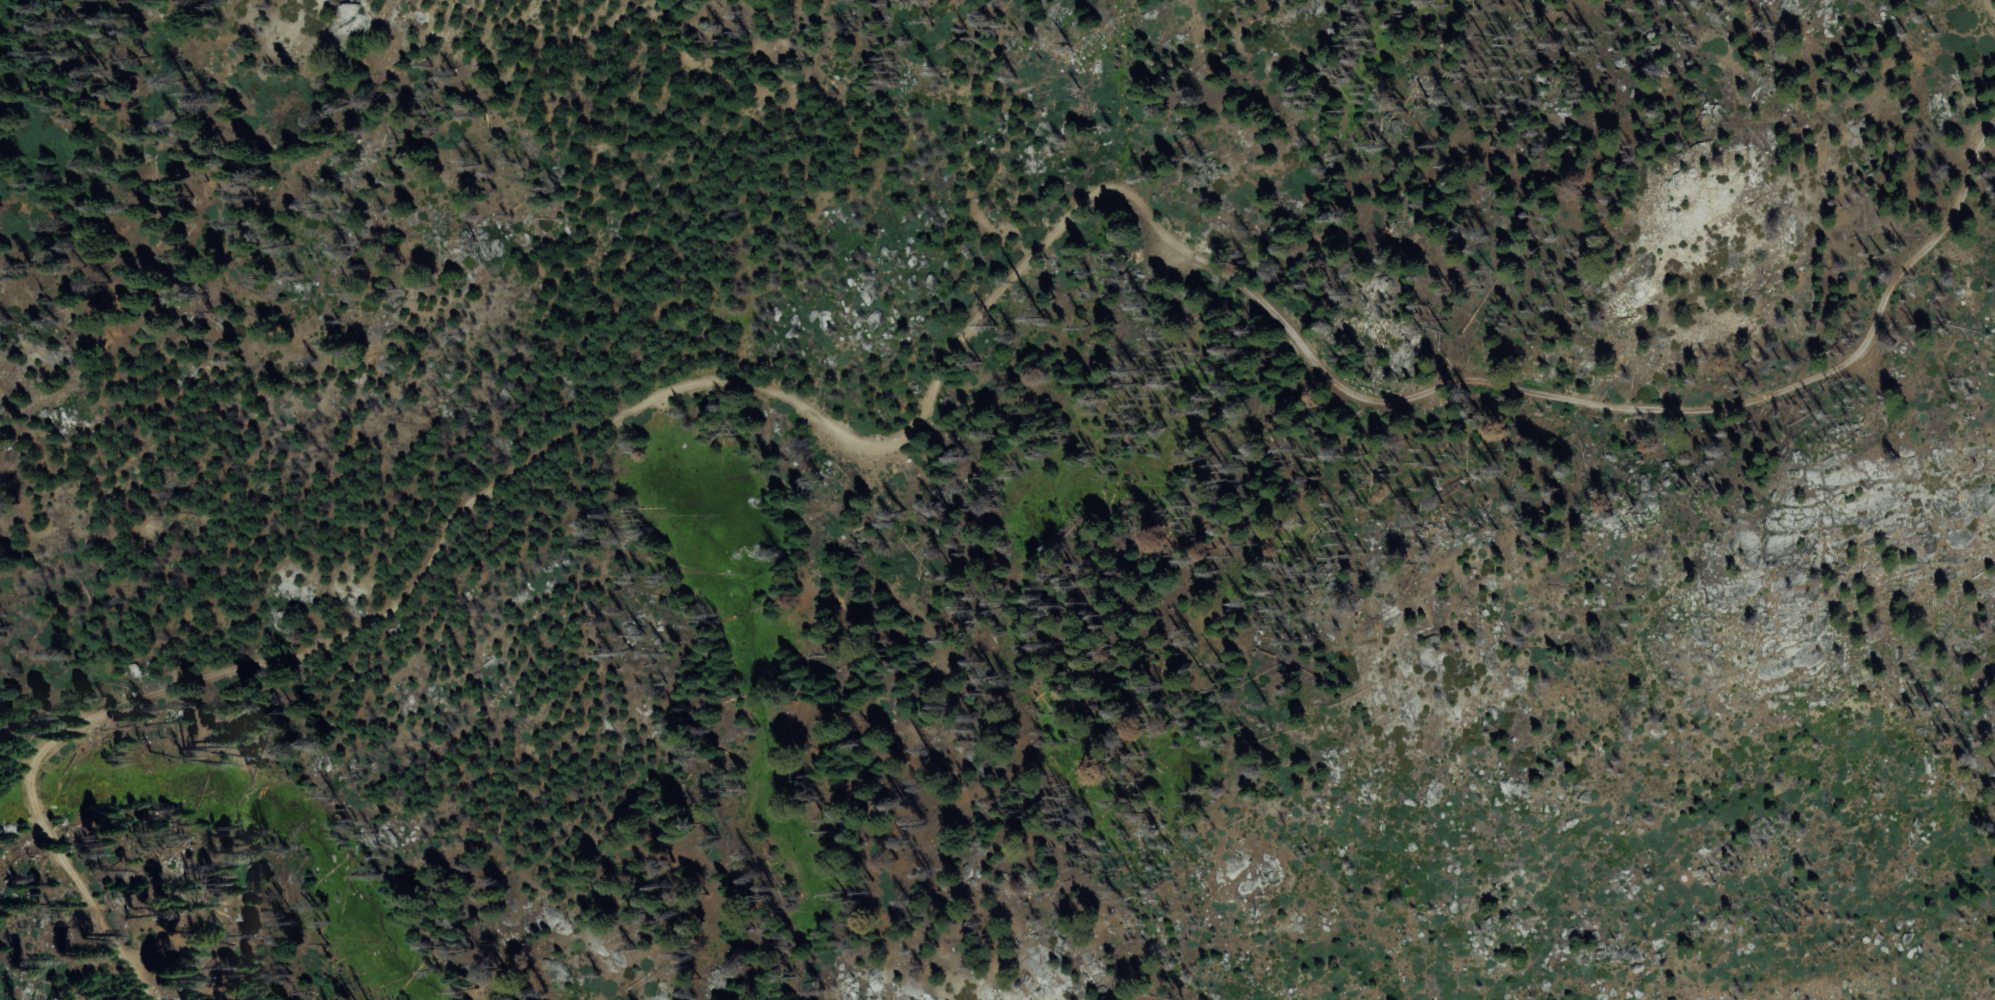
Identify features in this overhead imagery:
road: (943, 359)

